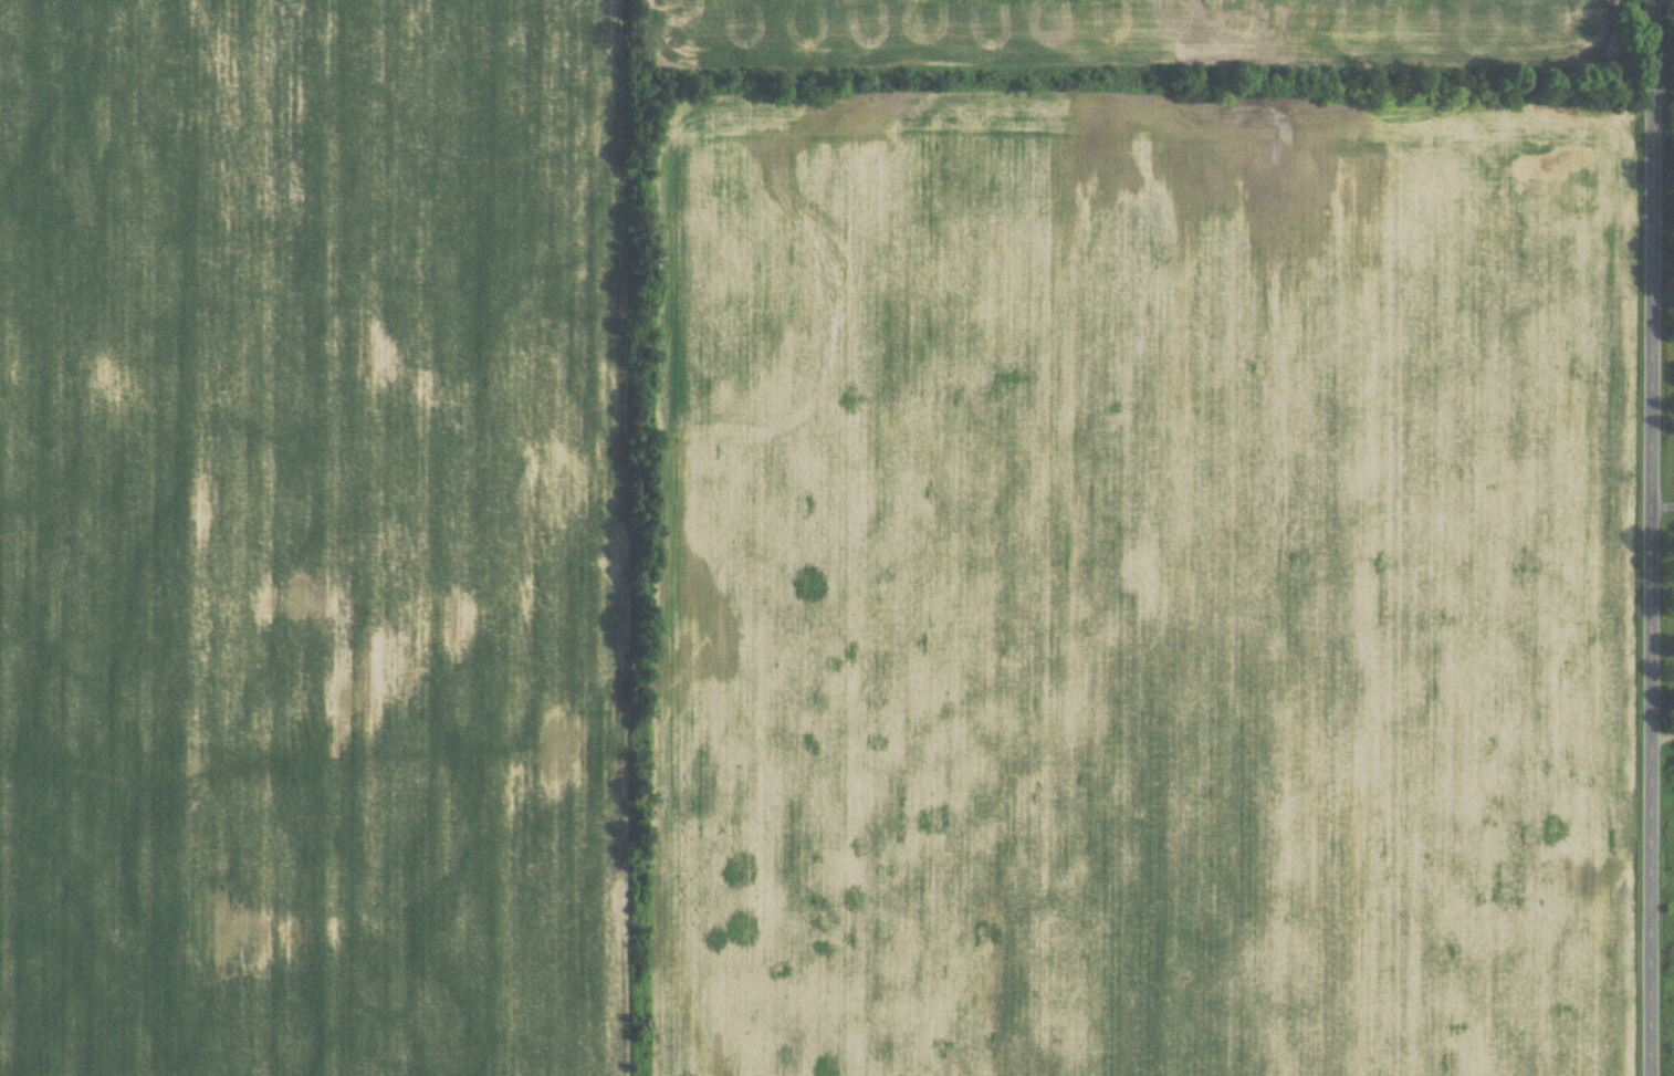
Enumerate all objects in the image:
road: (1663, 504)
road: (1653, 537)

